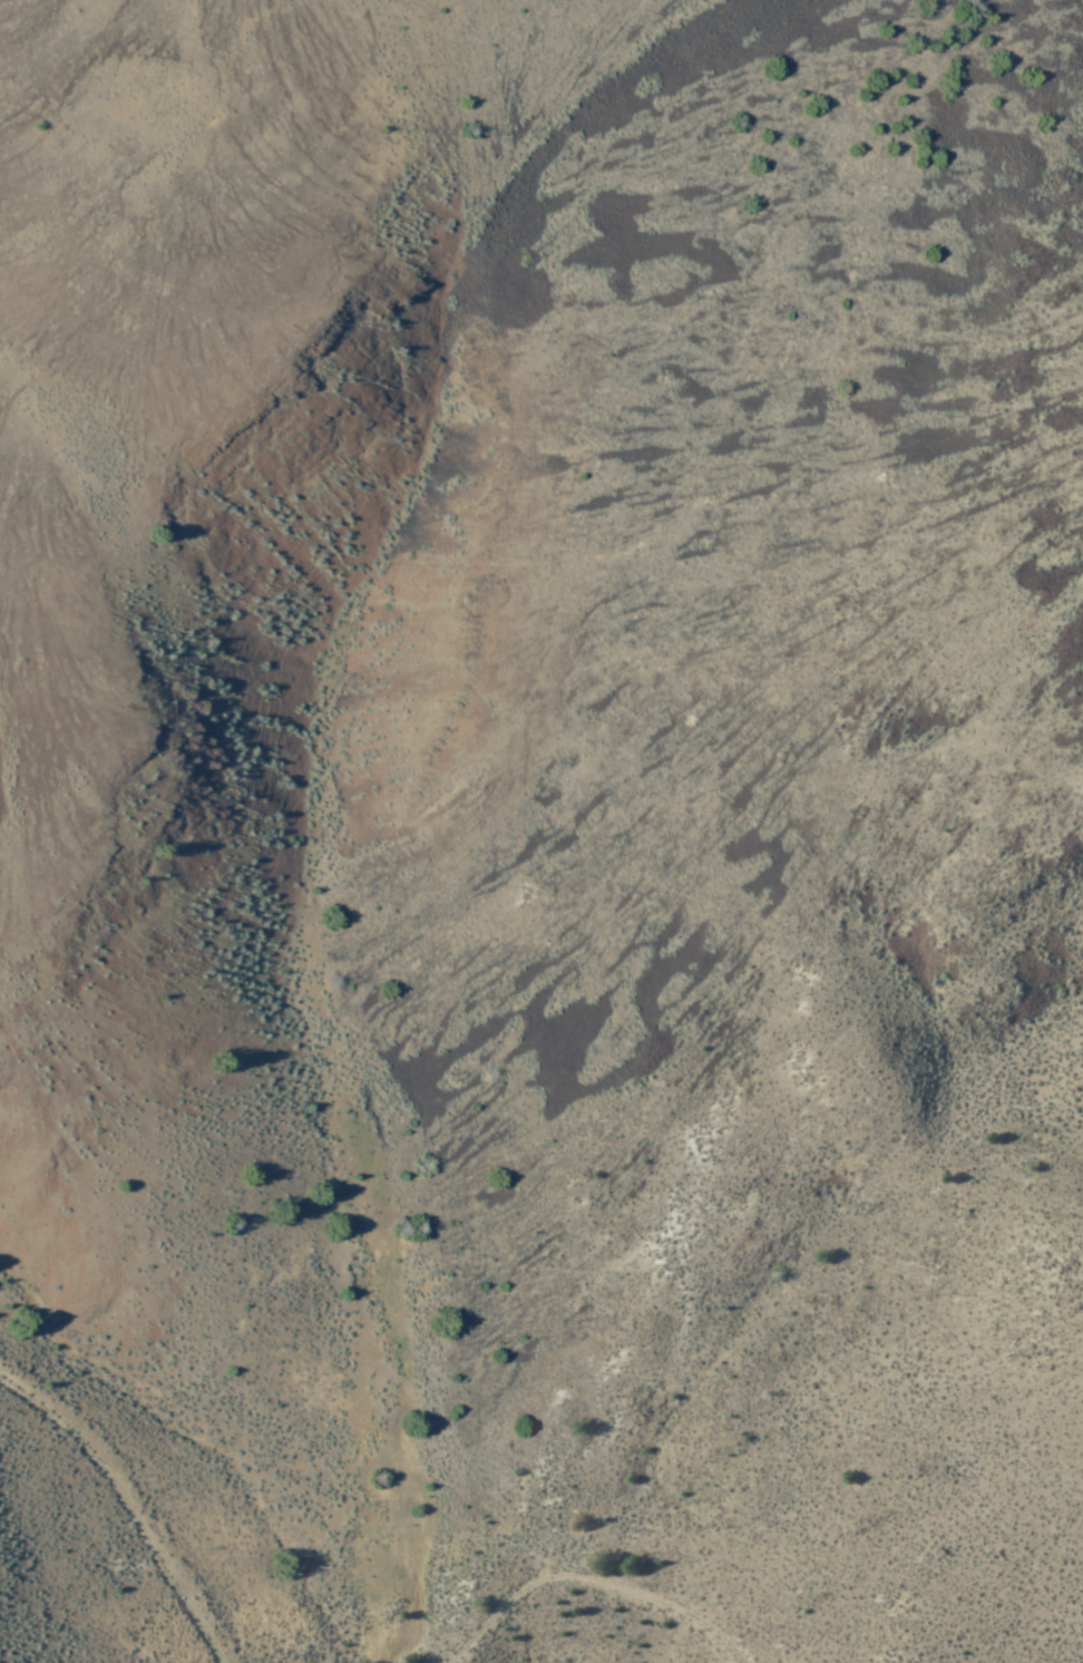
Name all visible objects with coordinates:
road: (114, 1515)

